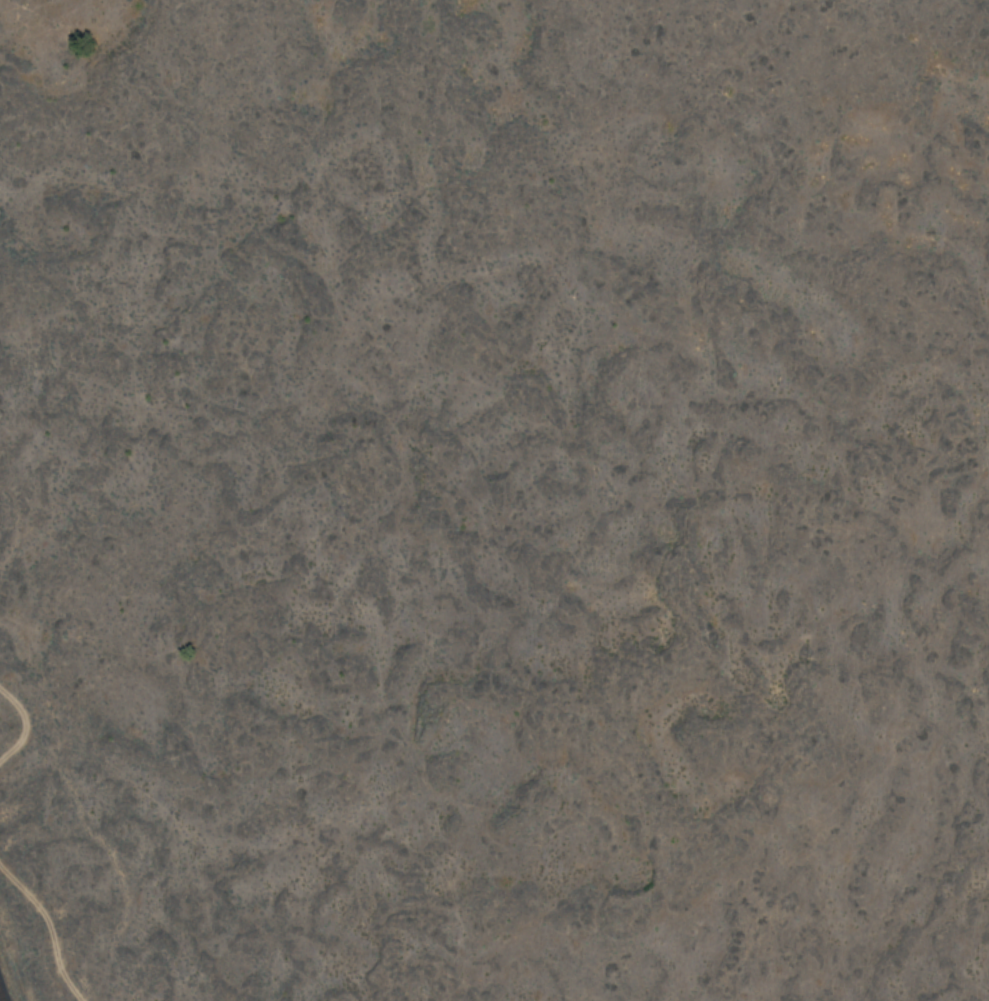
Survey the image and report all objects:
road: (24, 728)
road: (53, 923)

